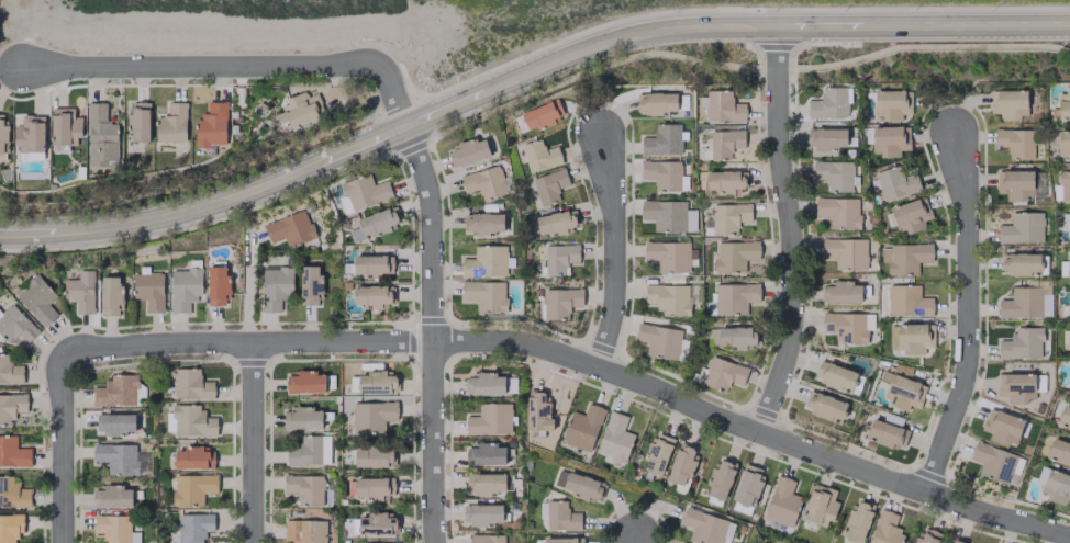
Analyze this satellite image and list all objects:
road: (966, 25)
road: (818, 26)
road: (626, 38)
road: (230, 65)
road: (9, 67)
building: (657, 102)
building: (828, 103)
building: (1008, 103)
building: (891, 104)
building: (1063, 104)
building: (723, 106)
road: (446, 109)
building: (300, 110)
building: (539, 115)
building: (138, 123)
building: (171, 124)
building: (211, 125)
building: (65, 126)
building: (30, 134)
building: (3, 136)
building: (101, 137)
building: (826, 138)
building: (891, 138)
building: (661, 140)
building: (1015, 142)
building: (725, 143)
road: (361, 144)
building: (1063, 145)
building: (468, 152)
building: (539, 156)
building: (661, 173)
building: (833, 174)
building: (724, 181)
building: (484, 182)
building: (895, 183)
building: (549, 184)
building: (1014, 184)
building: (1063, 186)
building: (365, 192)
road: (189, 212)
building: (837, 212)
building: (668, 215)
building: (910, 215)
building: (728, 217)
building: (484, 223)
building: (554, 223)
building: (375, 224)
building: (1069, 227)
building: (289, 228)
building: (1021, 228)
road: (26, 231)
road: (788, 231)
building: (845, 252)
building: (669, 254)
building: (734, 254)
road: (617, 256)
building: (904, 257)
building: (559, 258)
building: (486, 262)
building: (1019, 263)
building: (370, 264)
building: (1068, 267)
building: (216, 284)
building: (310, 284)
building: (275, 286)
building: (183, 289)
road: (246, 289)
building: (148, 291)
building: (79, 292)
building: (839, 292)
building: (484, 294)
building: (371, 295)
building: (110, 296)
building: (734, 296)
building: (671, 297)
building: (36, 299)
building: (559, 302)
building: (907, 302)
building: (1022, 303)
building: (1069, 305)
road: (969, 316)
building: (15, 325)
building: (848, 326)
road: (430, 331)
building: (736, 337)
building: (912, 338)
building: (1069, 340)
building: (661, 341)
building: (1021, 343)
road: (579, 362)
building: (10, 371)
building: (722, 374)
building: (835, 375)
building: (305, 382)
building: (376, 382)
building: (486, 384)
building: (191, 385)
building: (1017, 387)
building: (119, 392)
building: (11, 406)
building: (824, 406)
building: (540, 412)
building: (371, 416)
building: (1065, 417)
building: (302, 418)
building: (489, 419)
building: (192, 421)
building: (114, 423)
building: (582, 427)
building: (1002, 427)
building: (885, 430)
building: (614, 438)
road: (252, 442)
road: (60, 449)
building: (306, 450)
building: (12, 452)
building: (1058, 452)
building: (486, 454)
building: (657, 454)
building: (374, 456)
building: (193, 457)
building: (120, 459)
building: (996, 463)
building: (681, 465)
building: (720, 479)
building: (486, 483)
building: (578, 484)
building: (748, 485)
building: (1056, 486)
building: (371, 487)
building: (192, 488)
building: (304, 488)
building: (13, 494)
building: (111, 497)
building: (782, 502)
building: (820, 505)
building: (482, 513)
building: (561, 517)
building: (857, 521)
building: (376, 524)
building: (10, 527)
building: (193, 527)
building: (113, 528)
building: (707, 528)
building: (887, 529)
building: (304, 531)
building: (926, 536)
building: (486, 539)
road: (632, 539)
building: (564, 540)
building: (955, 540)
building: (376, 542)

